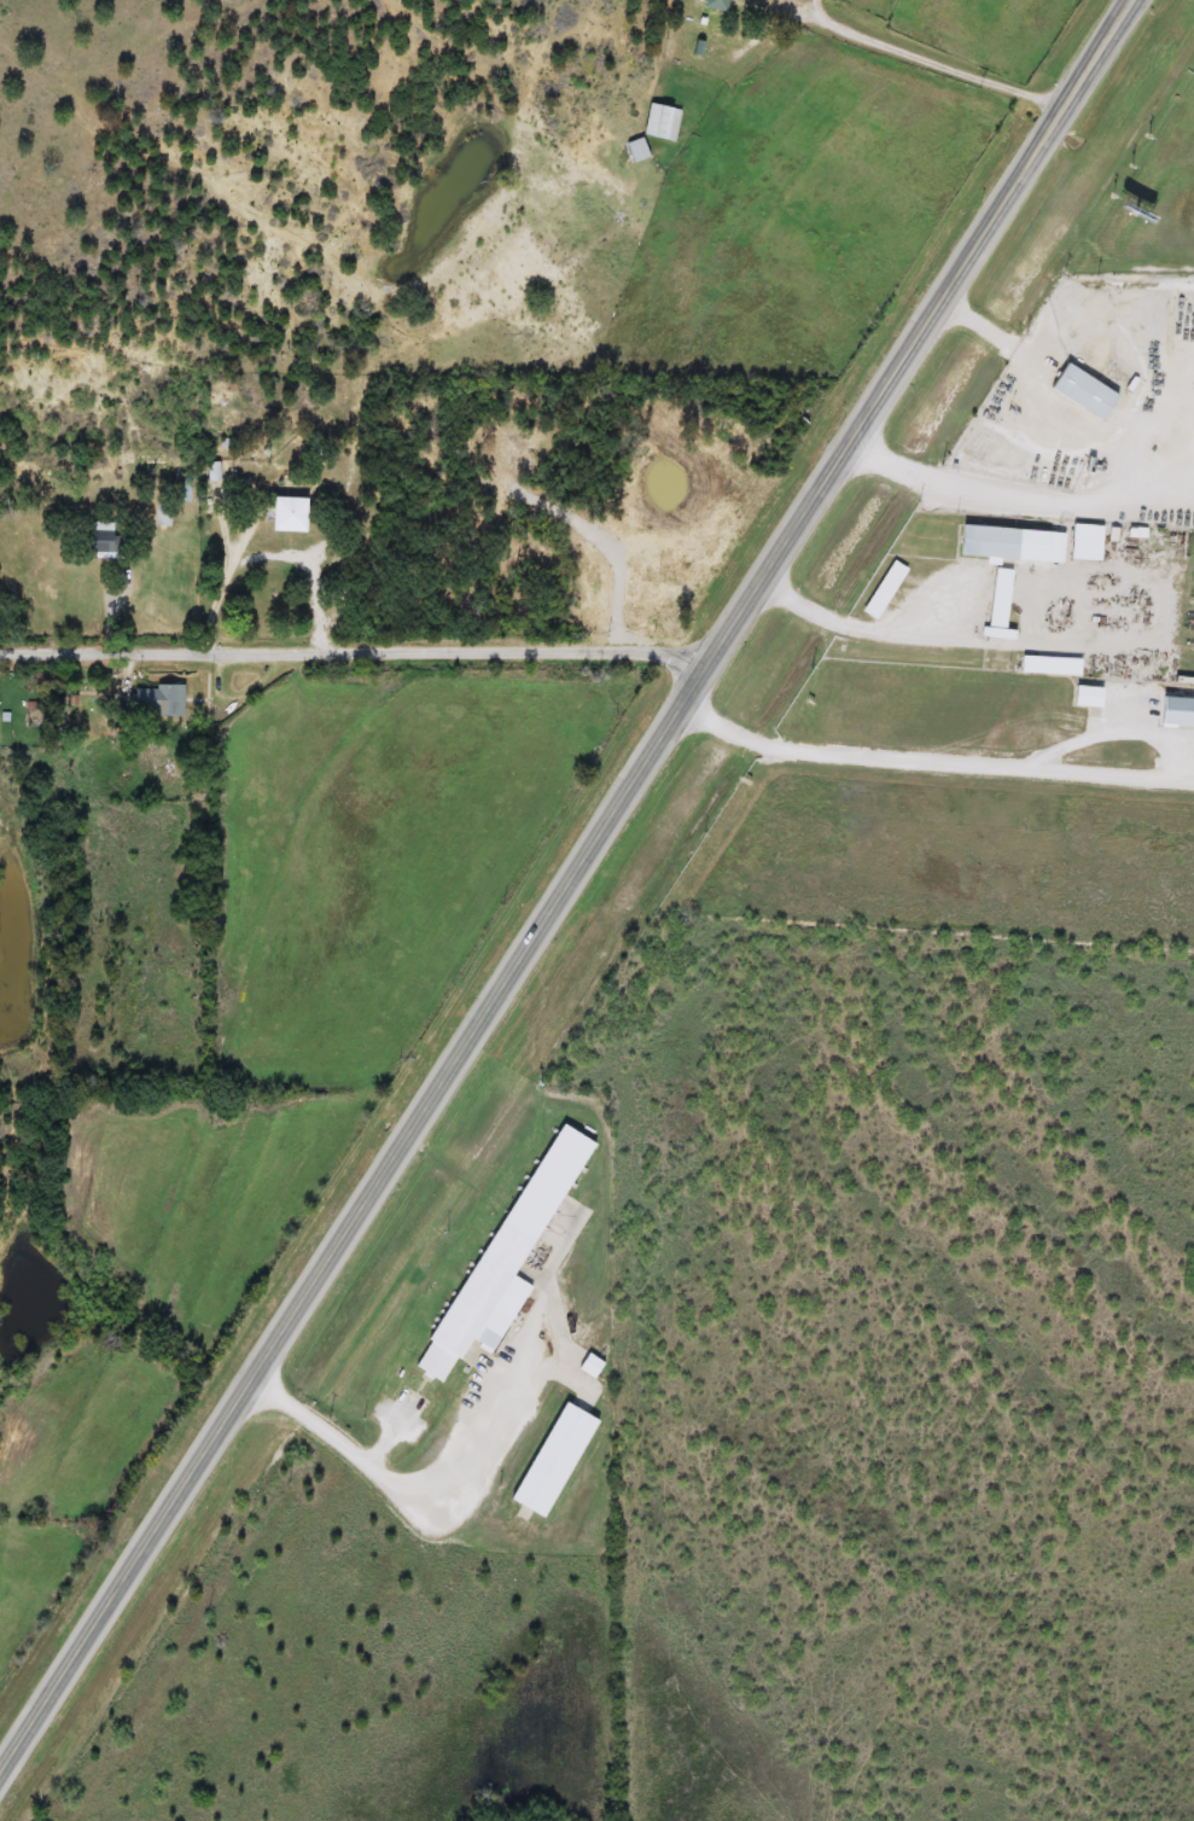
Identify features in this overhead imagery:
building: (710, 4)
road: (927, 56)
building: (659, 122)
building: (630, 151)
building: (1079, 392)
building: (216, 472)
road: (1138, 476)
building: (186, 488)
road: (983, 488)
building: (285, 516)
building: (98, 541)
building: (1083, 542)
building: (1008, 545)
road: (227, 577)
building: (997, 605)
road: (857, 622)
road: (357, 647)
building: (1048, 665)
building: (156, 700)
building: (1175, 711)
road: (934, 758)
road: (567, 886)
railway: (618, 913)
building: (503, 1257)
building: (549, 1461)
road: (419, 1528)

